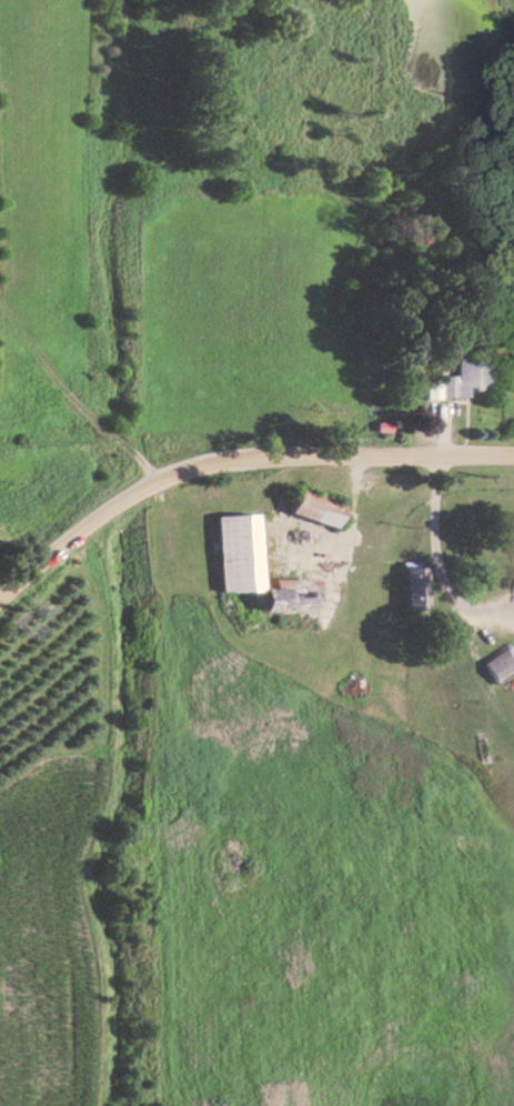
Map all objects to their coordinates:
building: (451, 379)
road: (235, 455)
building: (305, 509)
building: (228, 547)
road: (433, 564)
building: (409, 589)
building: (495, 665)

